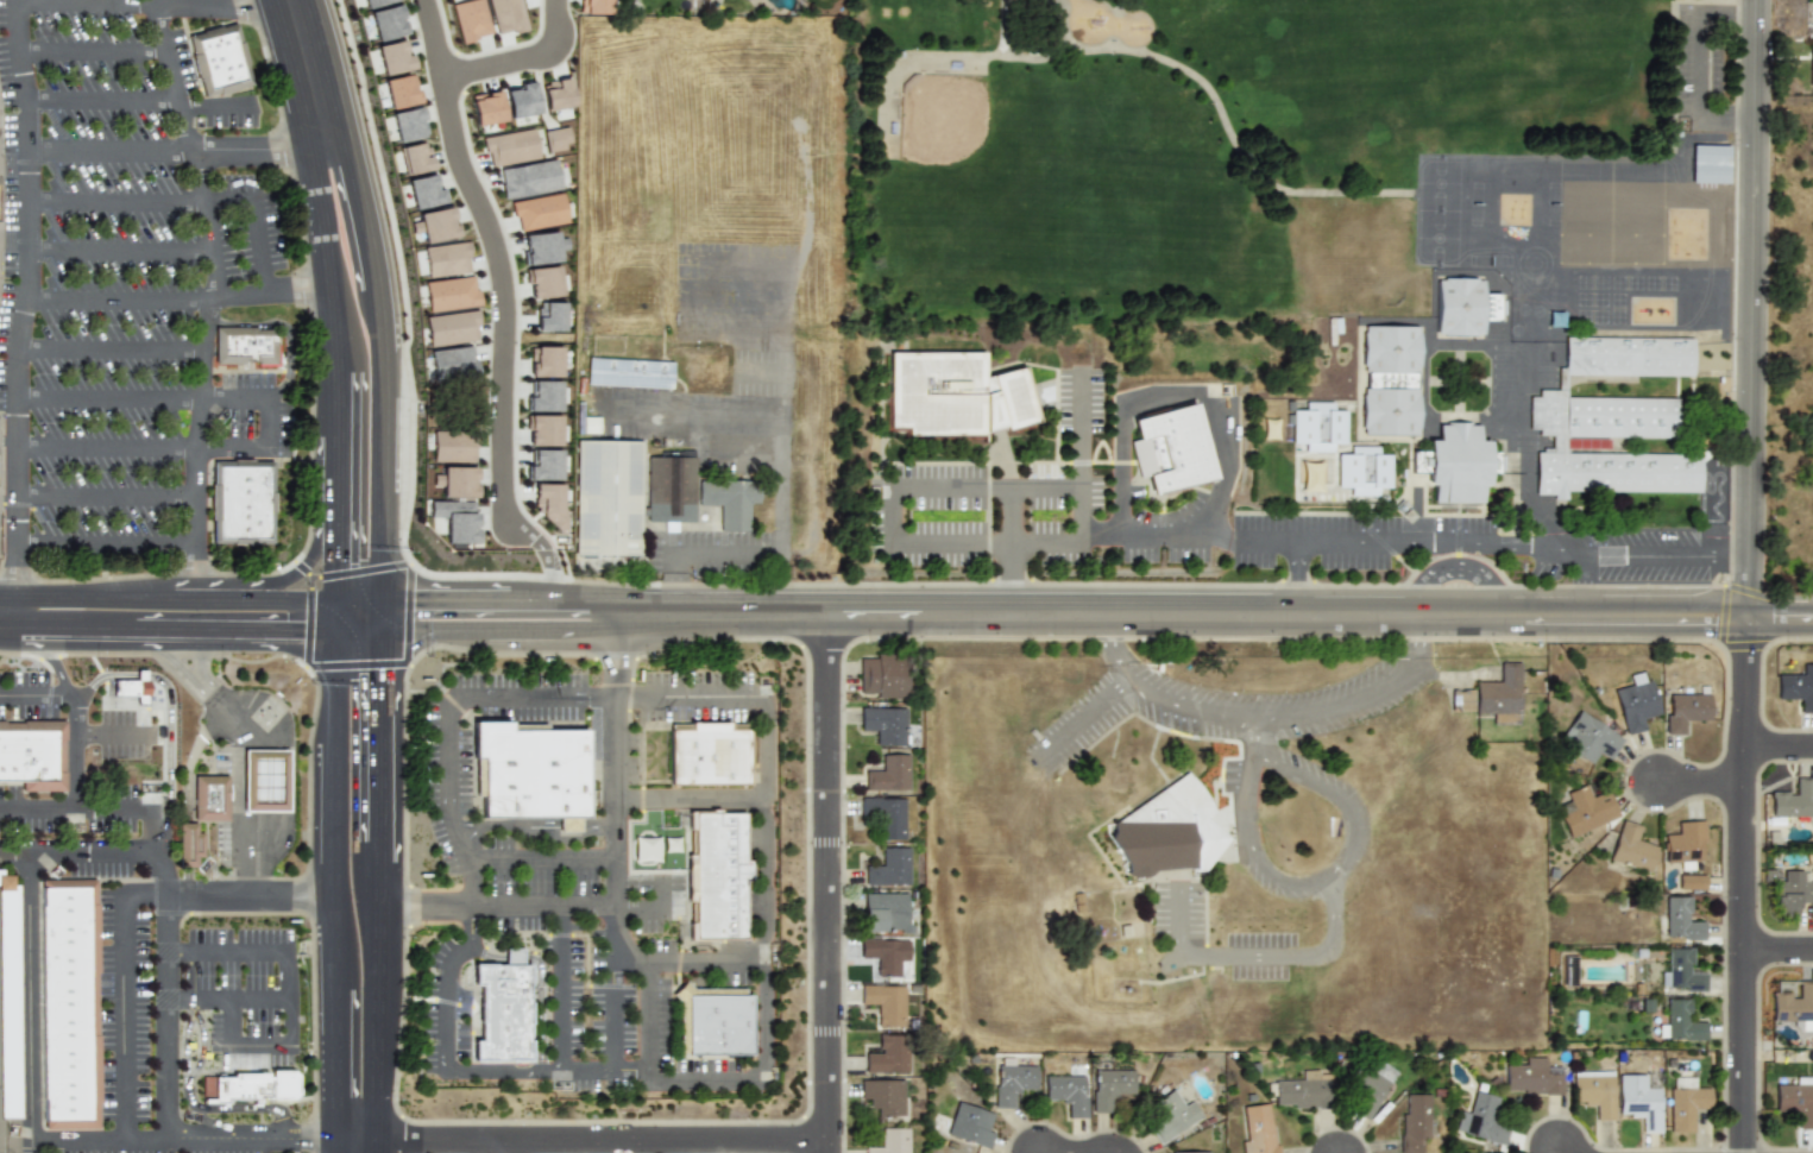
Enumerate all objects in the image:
building: (373, 2)
building: (593, 6)
building: (506, 15)
building: (471, 19)
building: (386, 23)
road: (92, 49)
building: (394, 57)
road: (517, 58)
building: (219, 61)
building: (1811, 65)
road: (1702, 68)
road: (308, 69)
street lamp: (355, 75)
building: (399, 90)
building: (556, 94)
road: (103, 100)
building: (521, 100)
building: (486, 108)
road: (214, 111)
building: (408, 124)
building: (555, 139)
park: (968, 143)
building: (510, 147)
road: (177, 150)
park: (1216, 152)
building: (415, 158)
road: (196, 160)
building: (1710, 164)
building: (528, 178)
road: (27, 179)
building: (423, 190)
road: (185, 202)
building: (539, 212)
building: (437, 225)
building: (542, 247)
road: (325, 250)
road: (119, 251)
road: (492, 256)
building: (446, 259)
building: (542, 282)
building: (451, 294)
road: (178, 301)
building: (1460, 307)
road: (1755, 309)
building: (549, 316)
road: (290, 326)
street lamp: (395, 327)
building: (452, 328)
road: (780, 332)
building: (244, 348)
road: (112, 351)
building: (1633, 357)
building: (544, 361)
building: (453, 363)
road: (378, 372)
building: (630, 372)
road: (758, 372)
building: (1390, 379)
building: (953, 393)
building: (543, 396)
road: (335, 397)
road: (111, 398)
road: (235, 398)
road: (688, 415)
building: (590, 424)
building: (1318, 426)
building: (542, 429)
building: (1559, 445)
building: (452, 447)
building: (1170, 448)
road: (169, 449)
road: (700, 451)
street lamp: (309, 458)
road: (335, 459)
road: (197, 461)
road: (753, 461)
building: (1418, 461)
building: (1459, 464)
building: (543, 465)
building: (1364, 471)
building: (458, 481)
road: (1037, 489)
building: (644, 496)
road: (108, 498)
building: (548, 503)
building: (241, 504)
road: (1534, 512)
building: (457, 519)
parking lot: (495, 528)
road: (1491, 540)
road: (1153, 541)
road: (1251, 542)
road: (106, 546)
road: (335, 546)
road: (729, 553)
road: (304, 560)
street lamp: (399, 560)
road: (544, 560)
traffic signals: (336, 566)
road: (1586, 582)
street lamp: (310, 587)
road: (109, 597)
road: (204, 598)
road: (287, 599)
road: (25, 611)
road: (358, 611)
road: (336, 615)
road: (465, 616)
road: (584, 616)
road: (1184, 616)
traffic signals: (418, 617)
road: (1781, 618)
road: (357, 619)
road: (191, 628)
traffic signals: (296, 629)
road: (57, 649)
street lamp: (429, 656)
building: (882, 675)
traffic signals: (379, 678)
street lamp: (316, 686)
building: (1798, 686)
building: (132, 687)
road: (212, 691)
building: (1493, 694)
road: (168, 698)
road: (751, 698)
building: (1637, 702)
building: (1686, 710)
road: (77, 716)
road: (1082, 718)
road: (1265, 719)
building: (886, 724)
road: (379, 727)
road: (113, 733)
building: (1589, 737)
road: (1779, 746)
building: (31, 756)
building: (709, 757)
road: (194, 761)
road: (617, 761)
building: (889, 771)
building: (531, 773)
road: (290, 775)
road: (258, 779)
building: (266, 779)
gas station: (266, 779)
road: (1702, 782)
road: (235, 786)
road: (690, 799)
building: (1794, 799)
building: (216, 800)
building: (1587, 808)
building: (888, 814)
road: (537, 826)
building: (1166, 831)
building: (1686, 843)
road: (189, 846)
building: (195, 846)
building: (646, 849)
building: (1631, 849)
road: (379, 850)
road: (253, 851)
road: (78, 853)
road: (544, 861)
building: (889, 867)
road: (1337, 870)
building: (716, 880)
building: (1691, 881)
road: (189, 882)
road: (334, 883)
road: (379, 883)
road: (830, 884)
road: (1744, 884)
road: (666, 893)
building: (1790, 894)
road: (168, 895)
road: (251, 895)
road: (498, 906)
building: (886, 912)
building: (1679, 918)
road: (1779, 950)
road: (1260, 952)
road: (276, 953)
building: (885, 953)
road: (665, 968)
building: (1681, 971)
road: (542, 981)
road: (561, 988)
road: (125, 995)
road: (30, 997)
road: (228, 1001)
building: (12, 1002)
building: (886, 1003)
building: (1795, 1004)
building: (68, 1006)
road: (613, 1010)
building: (499, 1012)
road: (649, 1019)
building: (1681, 1021)
road: (377, 1025)
building: (717, 1026)
road: (184, 1035)
road: (237, 1047)
building: (888, 1054)
road: (461, 1071)
building: (1532, 1076)
building: (1014, 1080)
building: (1109, 1086)
building: (1368, 1086)
building: (248, 1089)
building: (1594, 1091)
building: (1069, 1092)
building: (885, 1096)
building: (1796, 1100)
building: (1639, 1101)
building: (1686, 1102)
road: (202, 1109)
building: (1173, 1115)
building: (1482, 1119)
building: (1415, 1121)
building: (969, 1123)
building: (1258, 1130)
road: (194, 1139)
building: (889, 1140)
road: (15, 1141)
road: (593, 1141)
road: (357, 1146)
road: (504, 1147)
building: (1186, 1152)
road: (1563, 1152)

